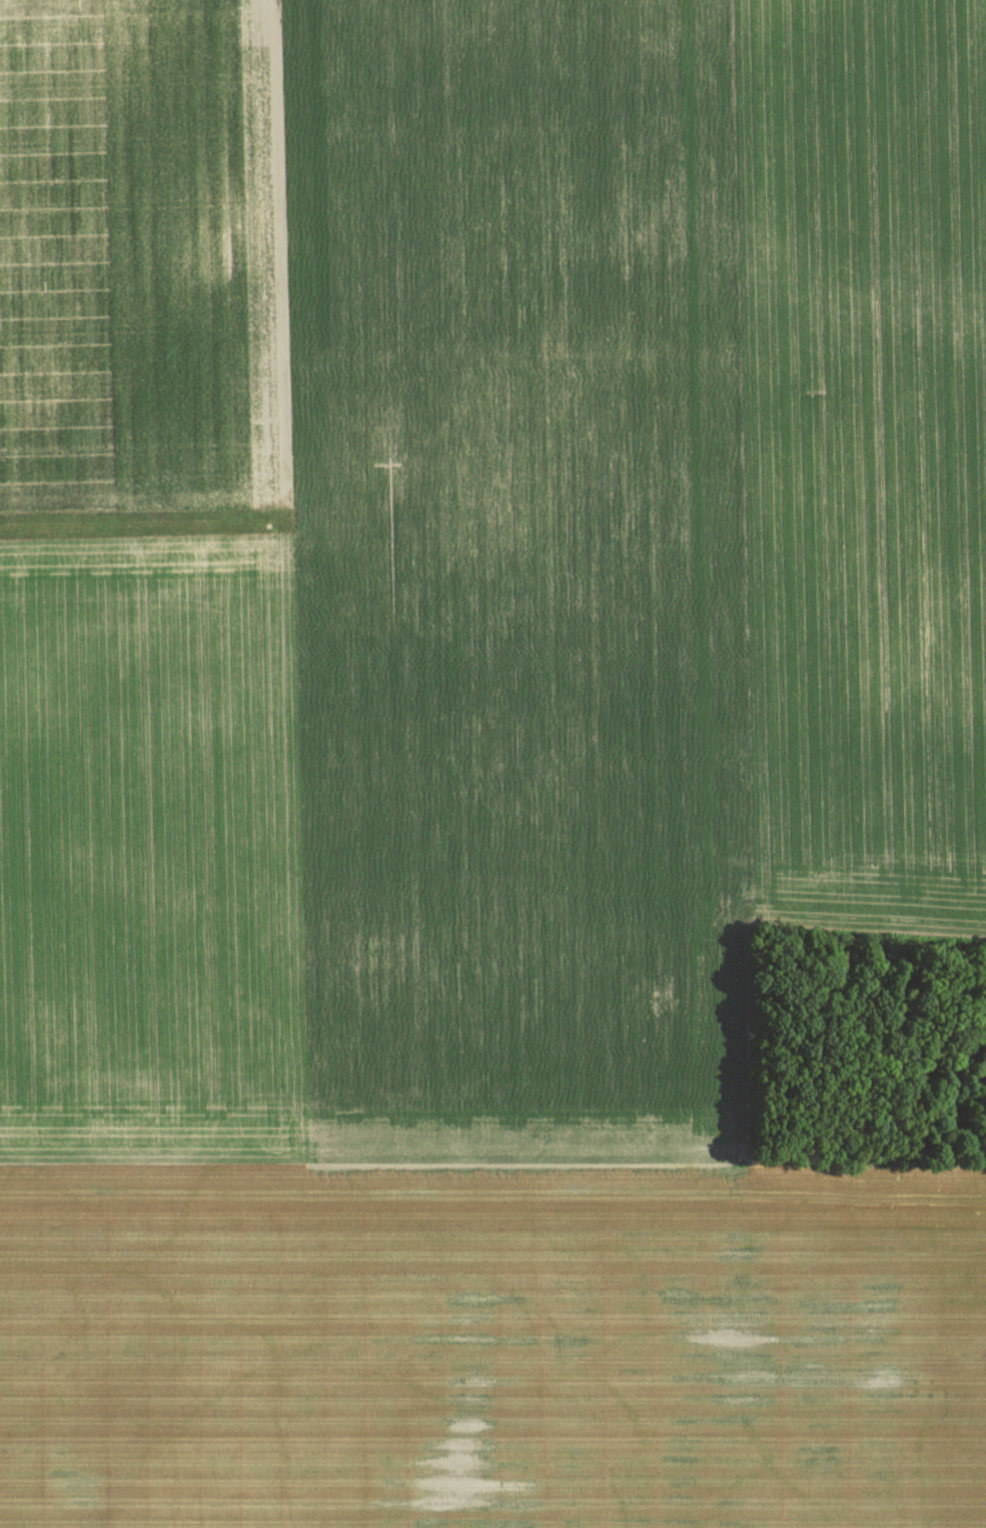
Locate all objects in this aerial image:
crop: (858, 460)
crop: (366, 582)
crop: (492, 1344)

